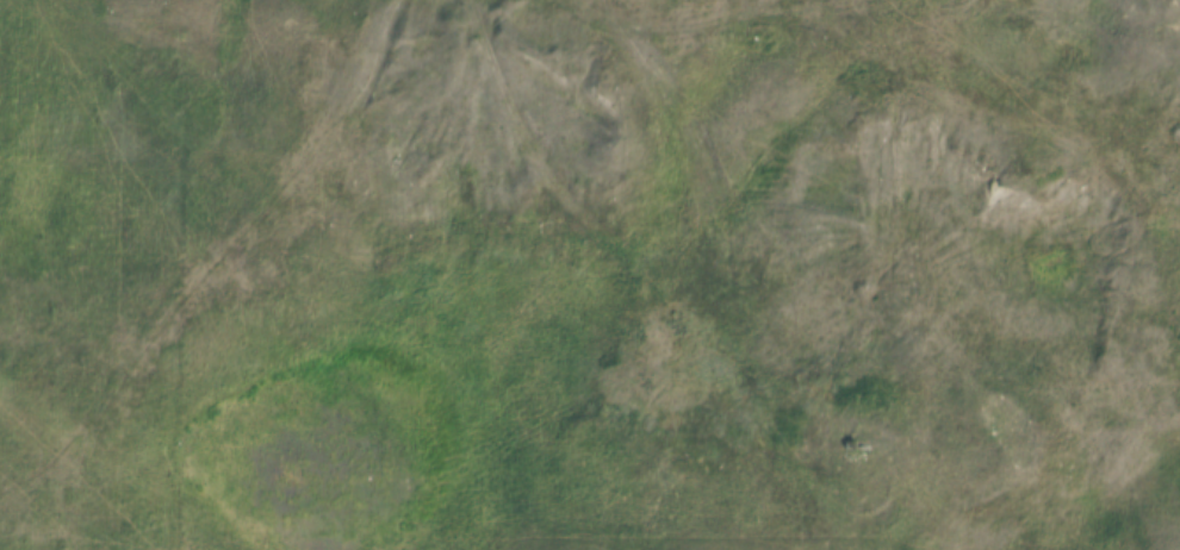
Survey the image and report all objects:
road: (660, 69)

